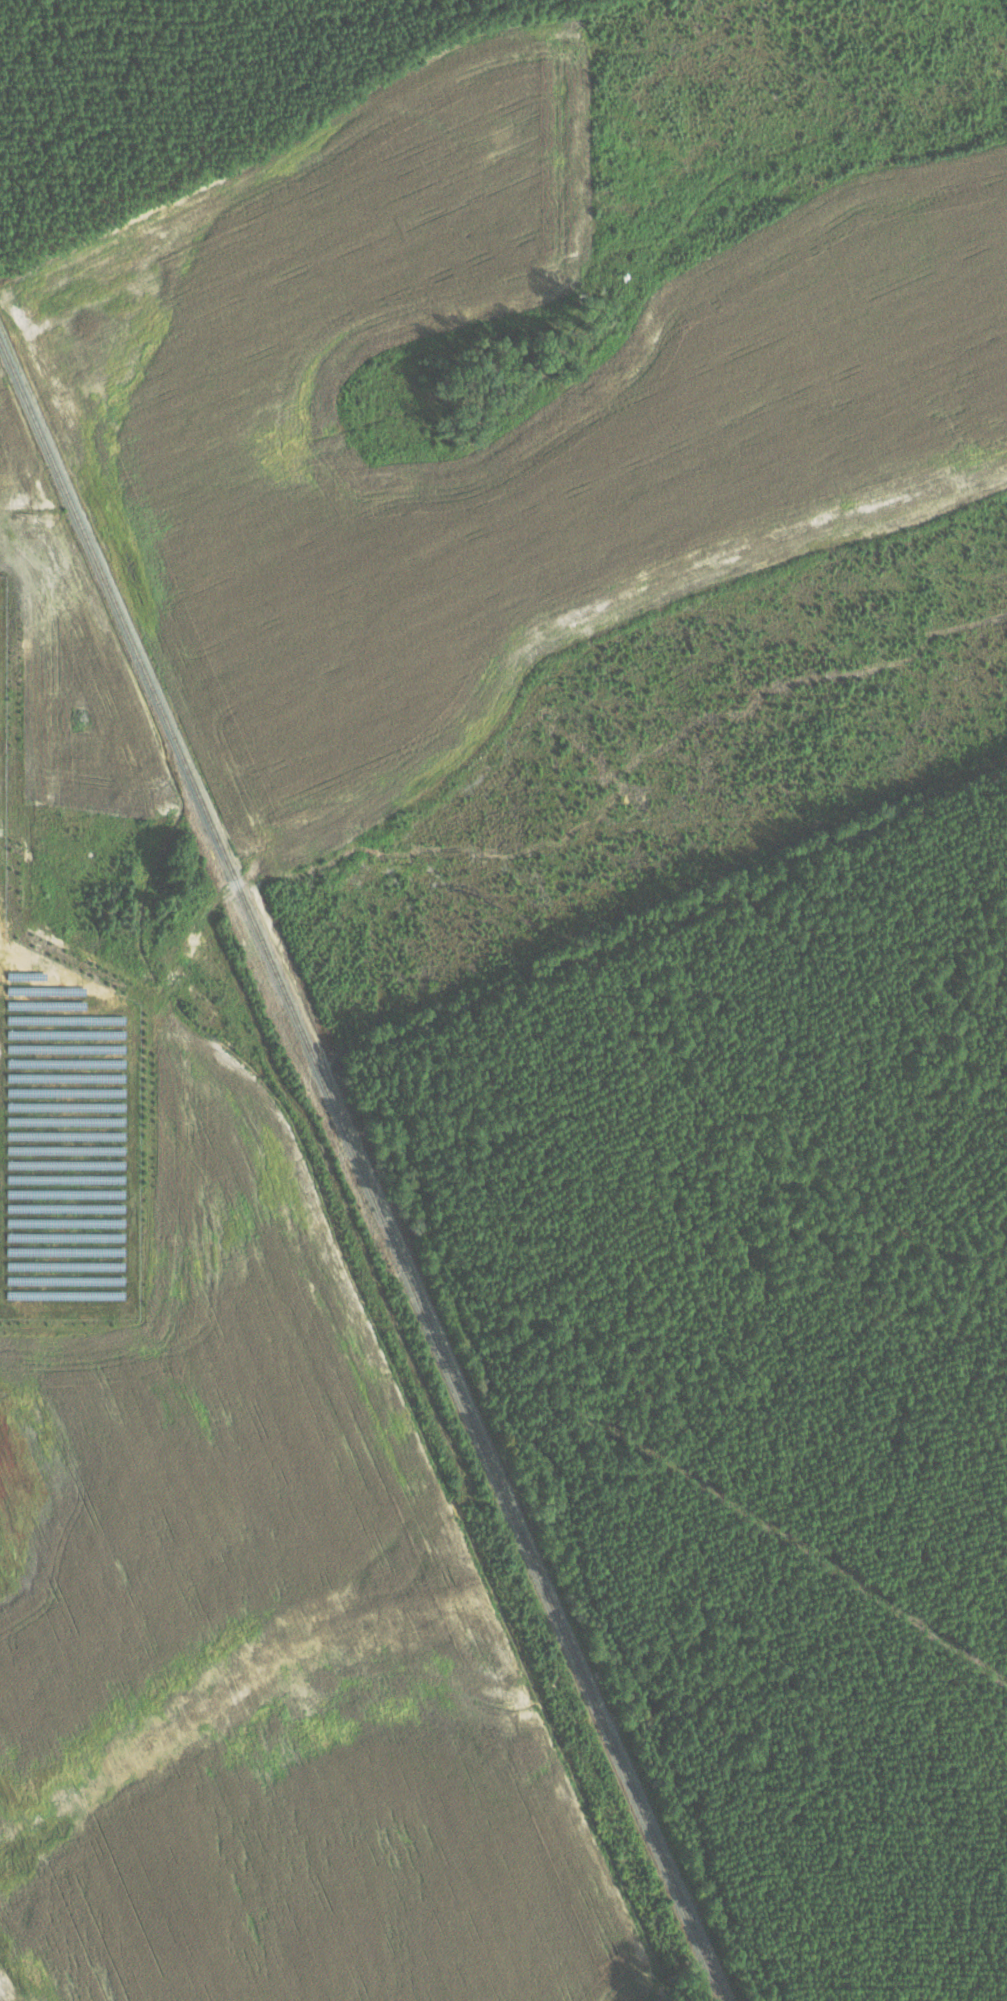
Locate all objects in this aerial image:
railway: (363, 1168)

